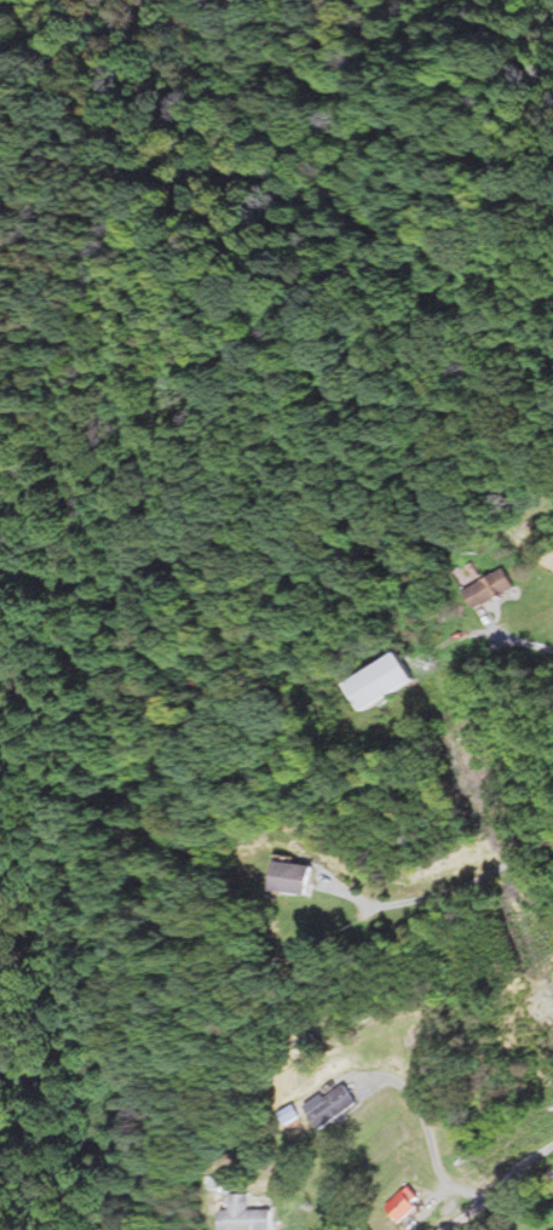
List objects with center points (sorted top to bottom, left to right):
building: (491, 588)
building: (388, 681)
building: (298, 876)
building: (339, 1105)
road: (526, 1178)
building: (408, 1205)
road: (472, 1211)
building: (248, 1215)

